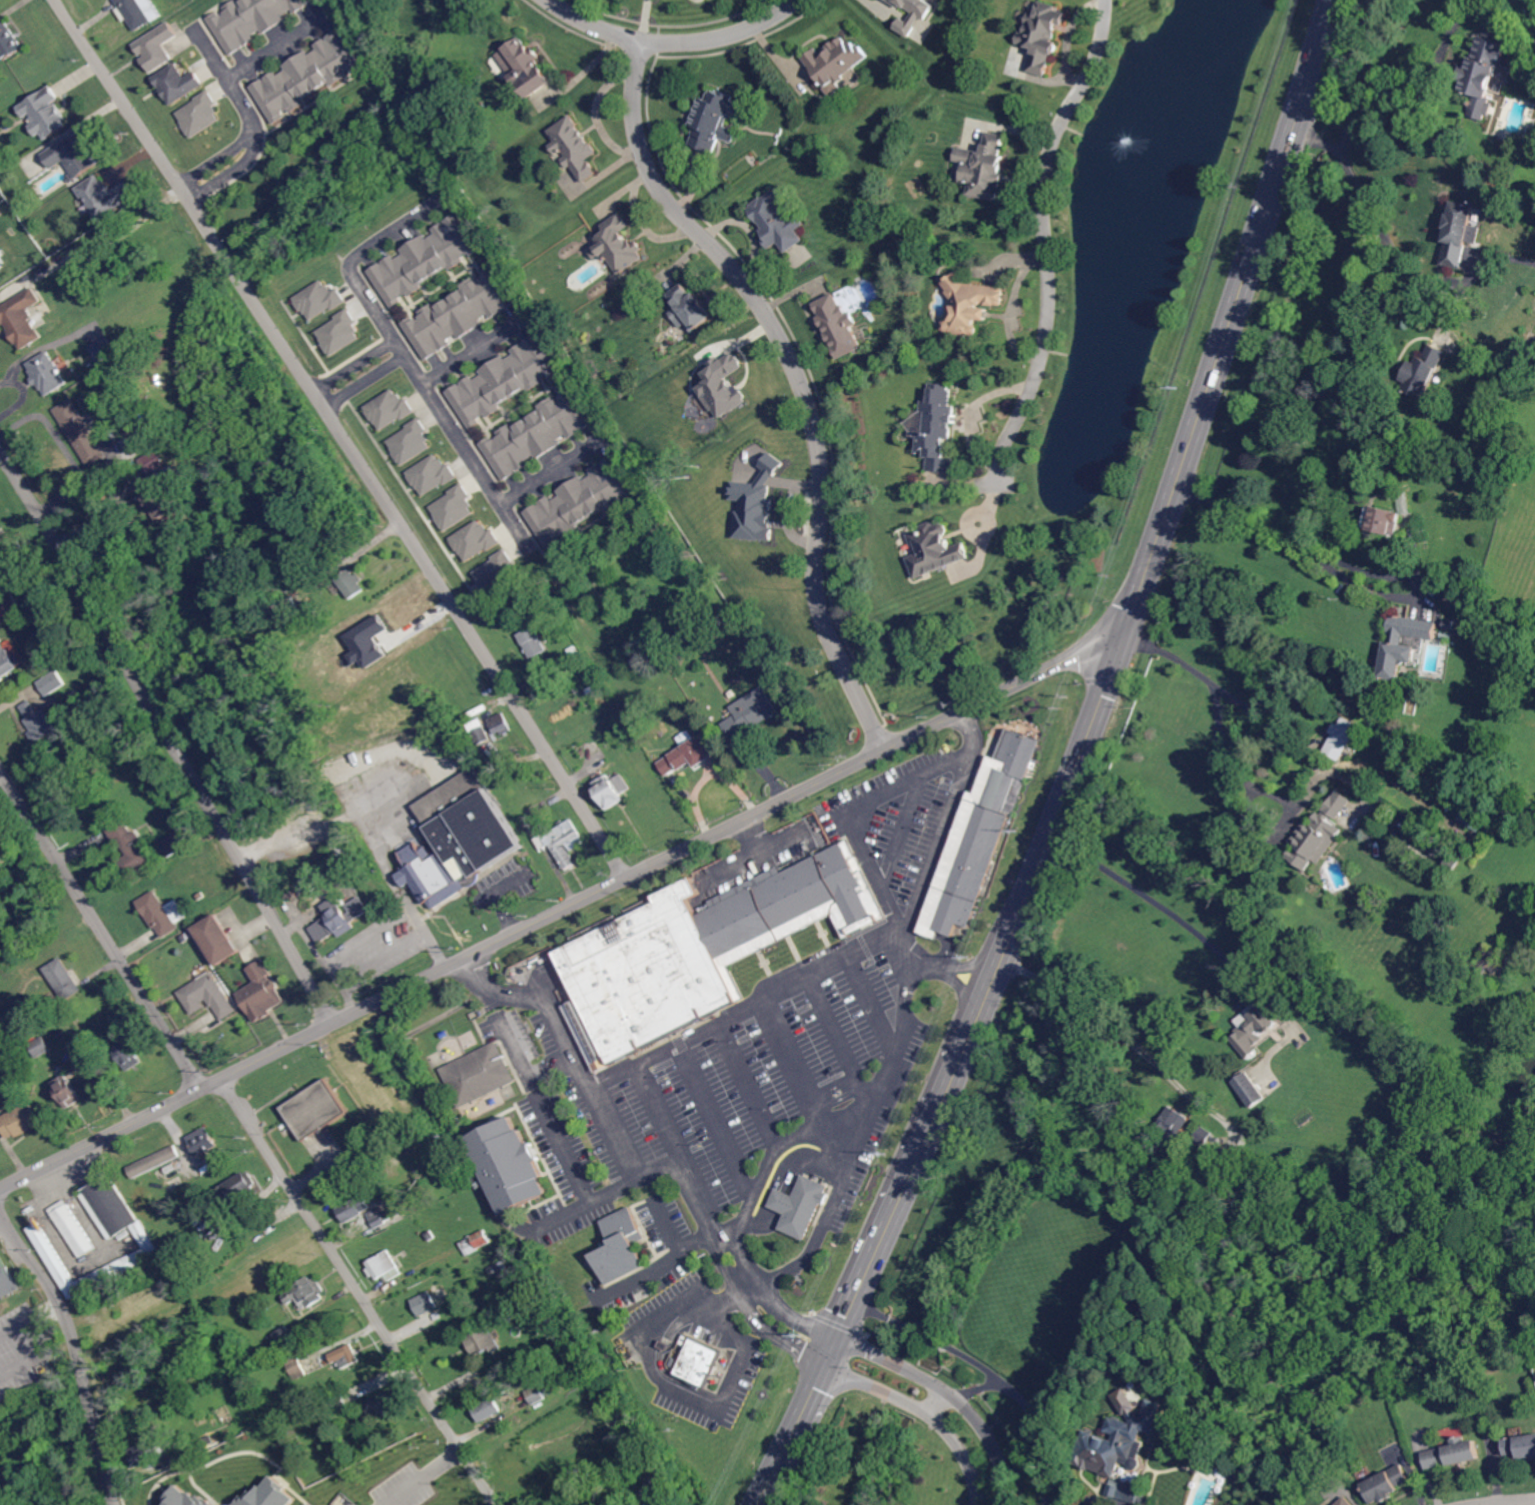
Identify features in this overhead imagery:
building: (905, 3)
building: (139, 11)
road: (1523, 17)
building: (251, 20)
building: (1041, 35)
building: (9, 40)
road: (674, 43)
building: (155, 48)
road: (270, 48)
building: (835, 61)
building: (530, 67)
building: (1483, 74)
building: (306, 77)
road: (228, 83)
building: (175, 85)
park: (1512, 95)
building: (43, 114)
building: (712, 121)
building: (573, 148)
building: (74, 156)
road: (210, 159)
building: (984, 167)
road: (224, 173)
building: (103, 197)
building: (778, 222)
building: (1461, 233)
road: (1043, 237)
building: (617, 245)
road: (1398, 255)
building: (424, 261)
building: (968, 306)
building: (689, 308)
building: (458, 314)
road: (1231, 315)
building: (20, 319)
building: (837, 325)
building: (1530, 344)
building: (102, 350)
road: (473, 353)
road: (405, 355)
road: (356, 367)
building: (1424, 370)
building: (47, 373)
road: (799, 377)
building: (502, 382)
road: (367, 383)
building: (938, 427)
building: (81, 431)
building: (291, 433)
building: (536, 434)
road: (345, 437)
road: (64, 448)
road: (550, 476)
building: (157, 498)
building: (580, 502)
road: (1250, 518)
building: (1381, 519)
building: (2, 530)
building: (933, 550)
building: (352, 582)
building: (9, 601)
building: (1456, 601)
building: (683, 609)
building: (333, 617)
building: (1449, 624)
traffic signals: (1124, 631)
building: (80, 636)
building: (305, 636)
building: (534, 642)
building: (572, 650)
building: (1399, 652)
building: (9, 662)
road: (1112, 665)
building: (53, 683)
building: (78, 693)
road: (1216, 694)
building: (751, 712)
road: (1257, 713)
building: (40, 721)
building: (500, 724)
building: (477, 732)
road: (169, 735)
building: (1340, 738)
building: (688, 755)
building: (612, 790)
building: (1478, 818)
building: (977, 829)
building: (1319, 833)
building: (456, 839)
building: (178, 842)
building: (562, 842)
building: (132, 846)
building: (1435, 848)
road: (766, 853)
road: (399, 893)
building: (201, 896)
road: (1158, 902)
road: (561, 910)
building: (161, 913)
building: (339, 918)
road: (100, 927)
building: (216, 941)
building: (698, 943)
road: (848, 955)
building: (1488, 963)
road: (943, 964)
building: (65, 978)
building: (260, 994)
building: (208, 995)
road: (983, 995)
building: (1263, 1017)
road: (1121, 1032)
building: (42, 1046)
building: (130, 1055)
building: (478, 1075)
parking lot: (758, 1084)
building: (69, 1090)
building: (1248, 1091)
building: (315, 1108)
building: (22, 1120)
building: (1170, 1124)
building: (1202, 1136)
building: (203, 1140)
building: (156, 1161)
building: (508, 1165)
building: (178, 1181)
building: (239, 1189)
building: (798, 1203)
building: (355, 1208)
road: (755, 1210)
building: (379, 1216)
building: (75, 1228)
building: (41, 1234)
building: (430, 1235)
building: (617, 1241)
building: (475, 1243)
building: (385, 1266)
building: (493, 1270)
building: (7, 1281)
road: (775, 1282)
building: (308, 1292)
road: (360, 1292)
building: (426, 1302)
building: (111, 1305)
road: (785, 1328)
building: (282, 1336)
road: (837, 1338)
building: (685, 1339)
road: (43, 1342)
building: (482, 1342)
building: (665, 1346)
road: (78, 1349)
building: (346, 1355)
building: (696, 1357)
building: (673, 1363)
traffic signals: (827, 1364)
building: (296, 1368)
road: (990, 1371)
road: (663, 1378)
road: (979, 1388)
road: (953, 1393)
building: (536, 1394)
building: (309, 1396)
building: (337, 1402)
building: (381, 1403)
building: (487, 1410)
road: (927, 1410)
building: (204, 1443)
building: (1120, 1443)
building: (1521, 1445)
road: (785, 1447)
building: (147, 1452)
building: (1454, 1452)
building: (177, 1457)
building: (218, 1460)
building: (406, 1462)
road: (427, 1478)
building: (1387, 1485)
building: (1128, 1493)
building: (656, 1494)
building: (158, 1498)
building: (1347, 1501)
road: (1507, 1502)

